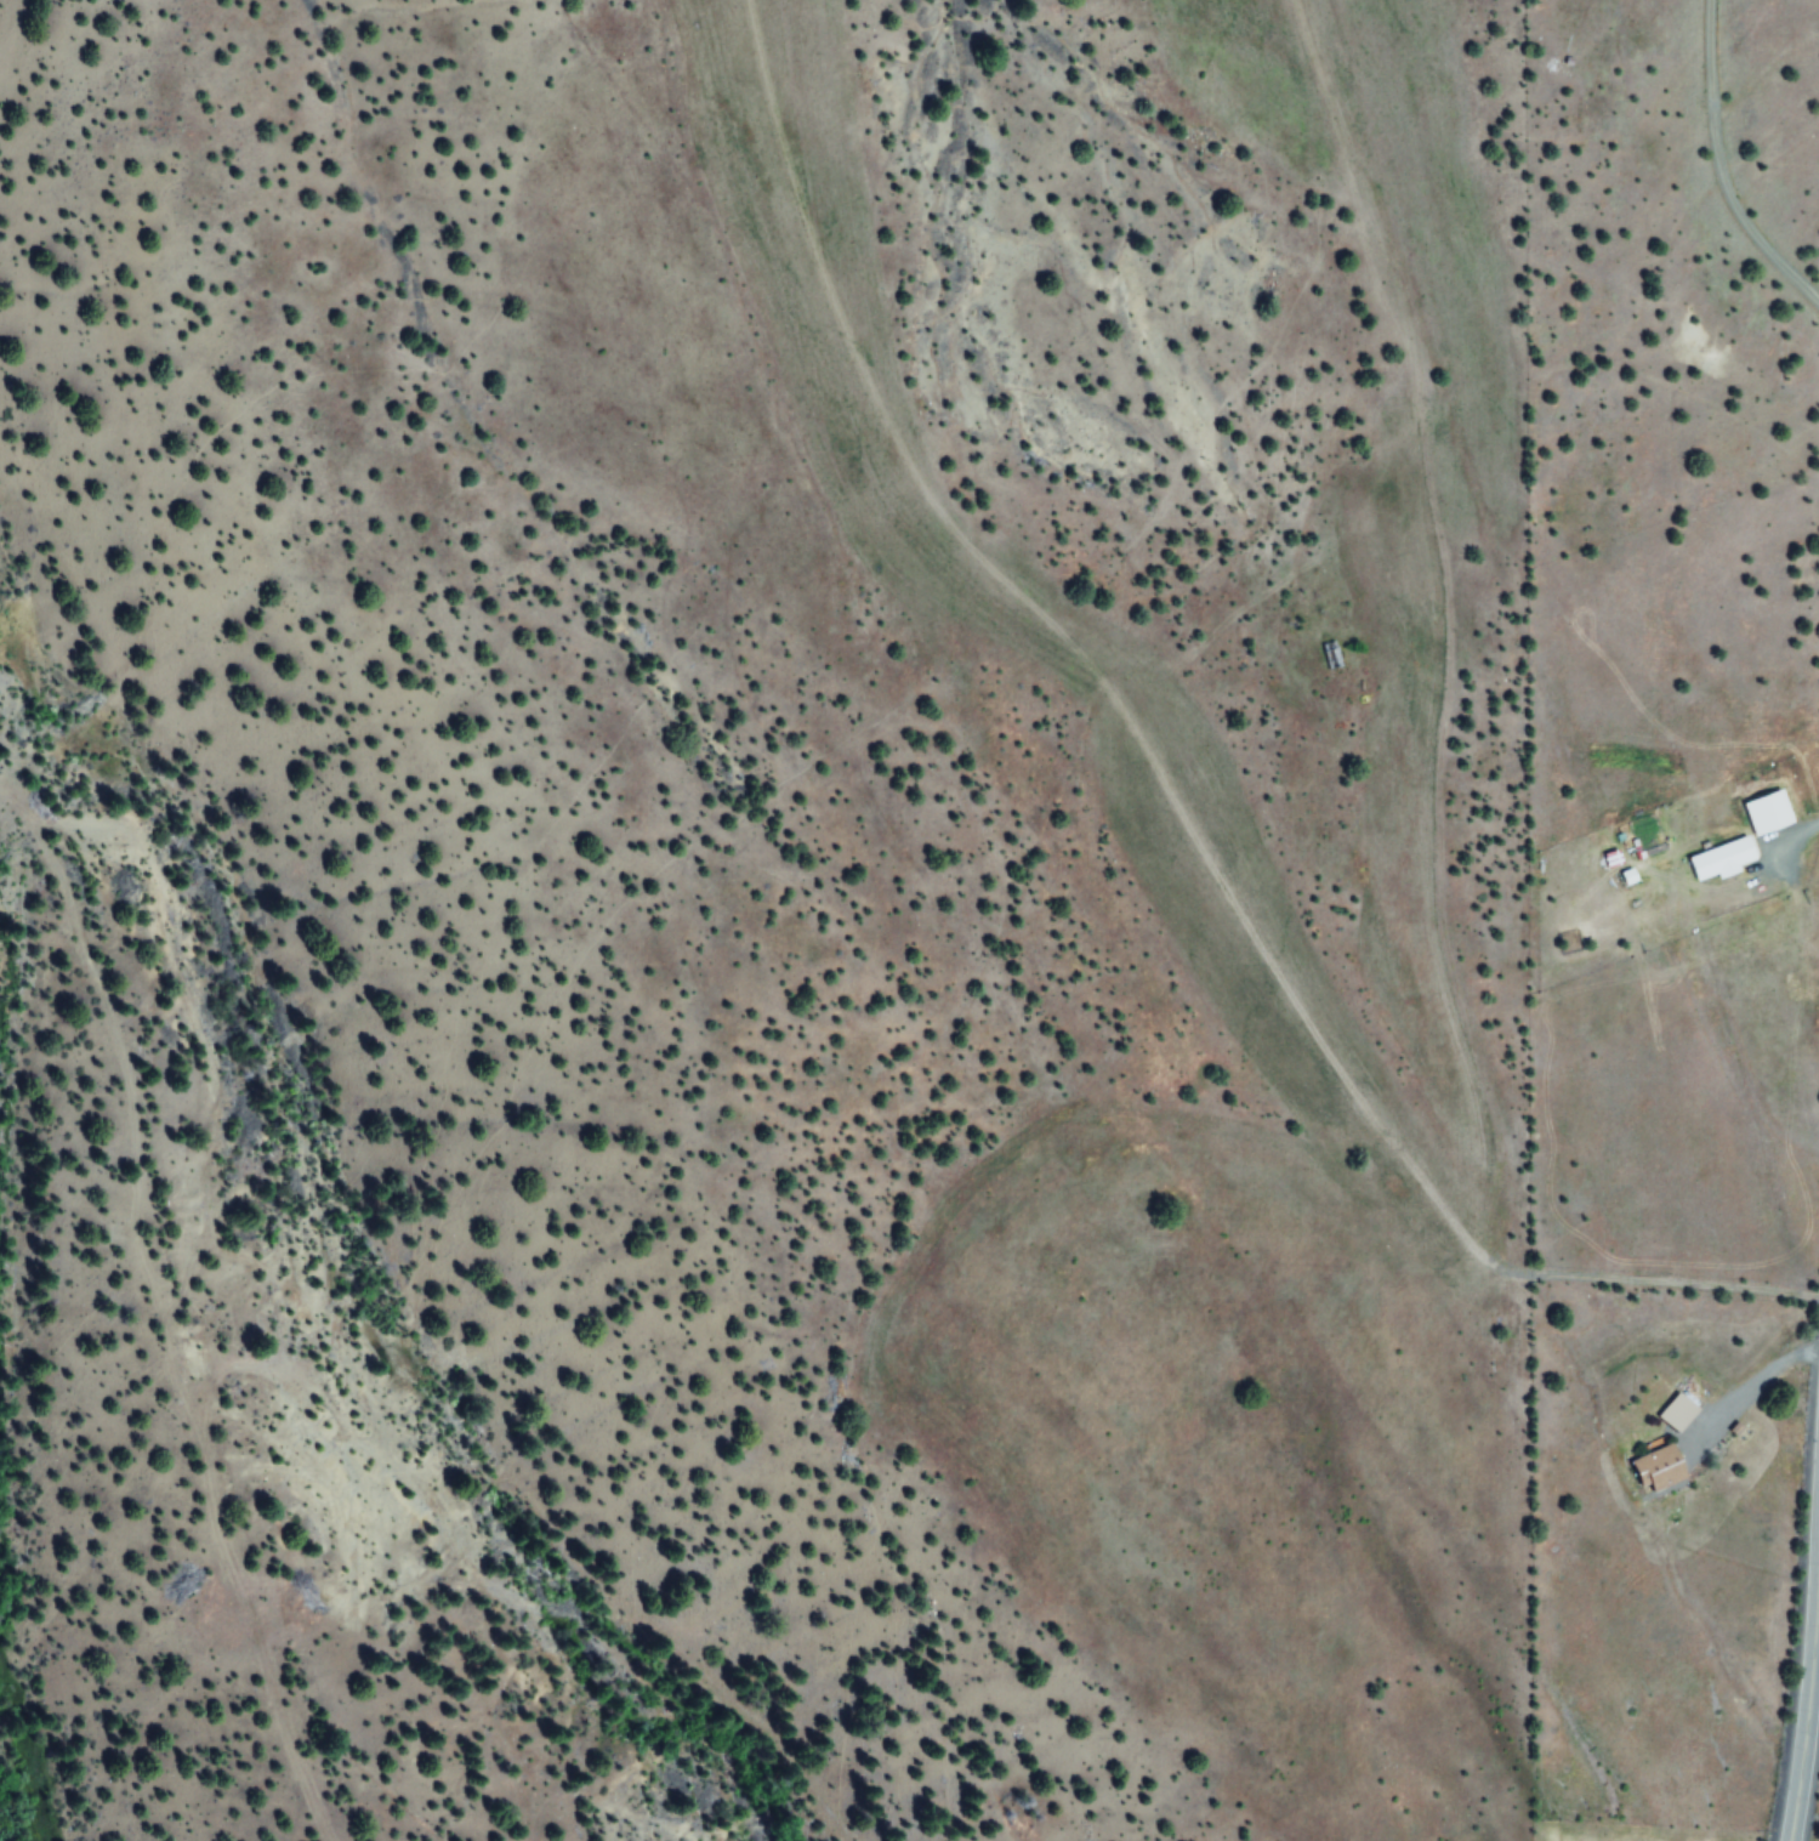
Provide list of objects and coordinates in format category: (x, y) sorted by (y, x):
building: (1721, 859)
road: (1758, 1381)
building: (1675, 1413)
building: (1656, 1468)
road: (1808, 1727)

